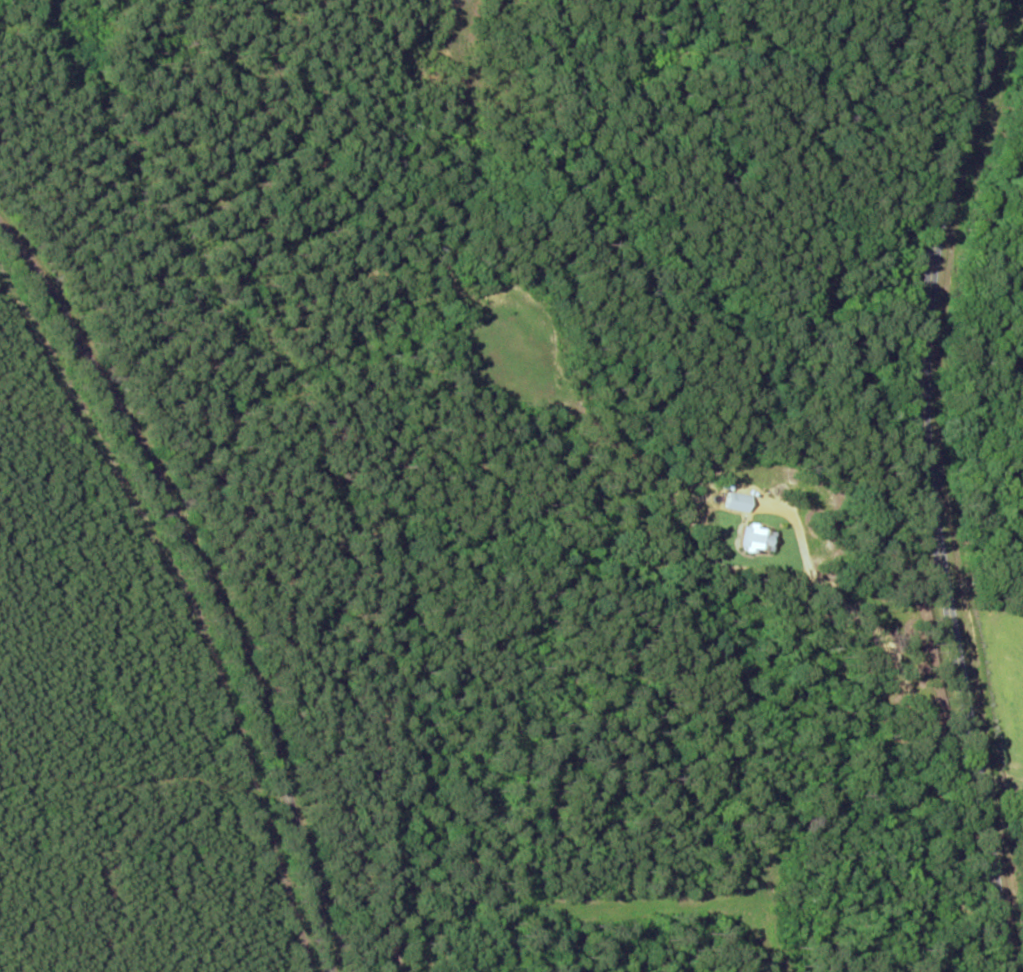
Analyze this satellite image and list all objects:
road: (16, 0)
road: (935, 499)
building: (742, 502)
building: (761, 539)
road: (213, 592)

